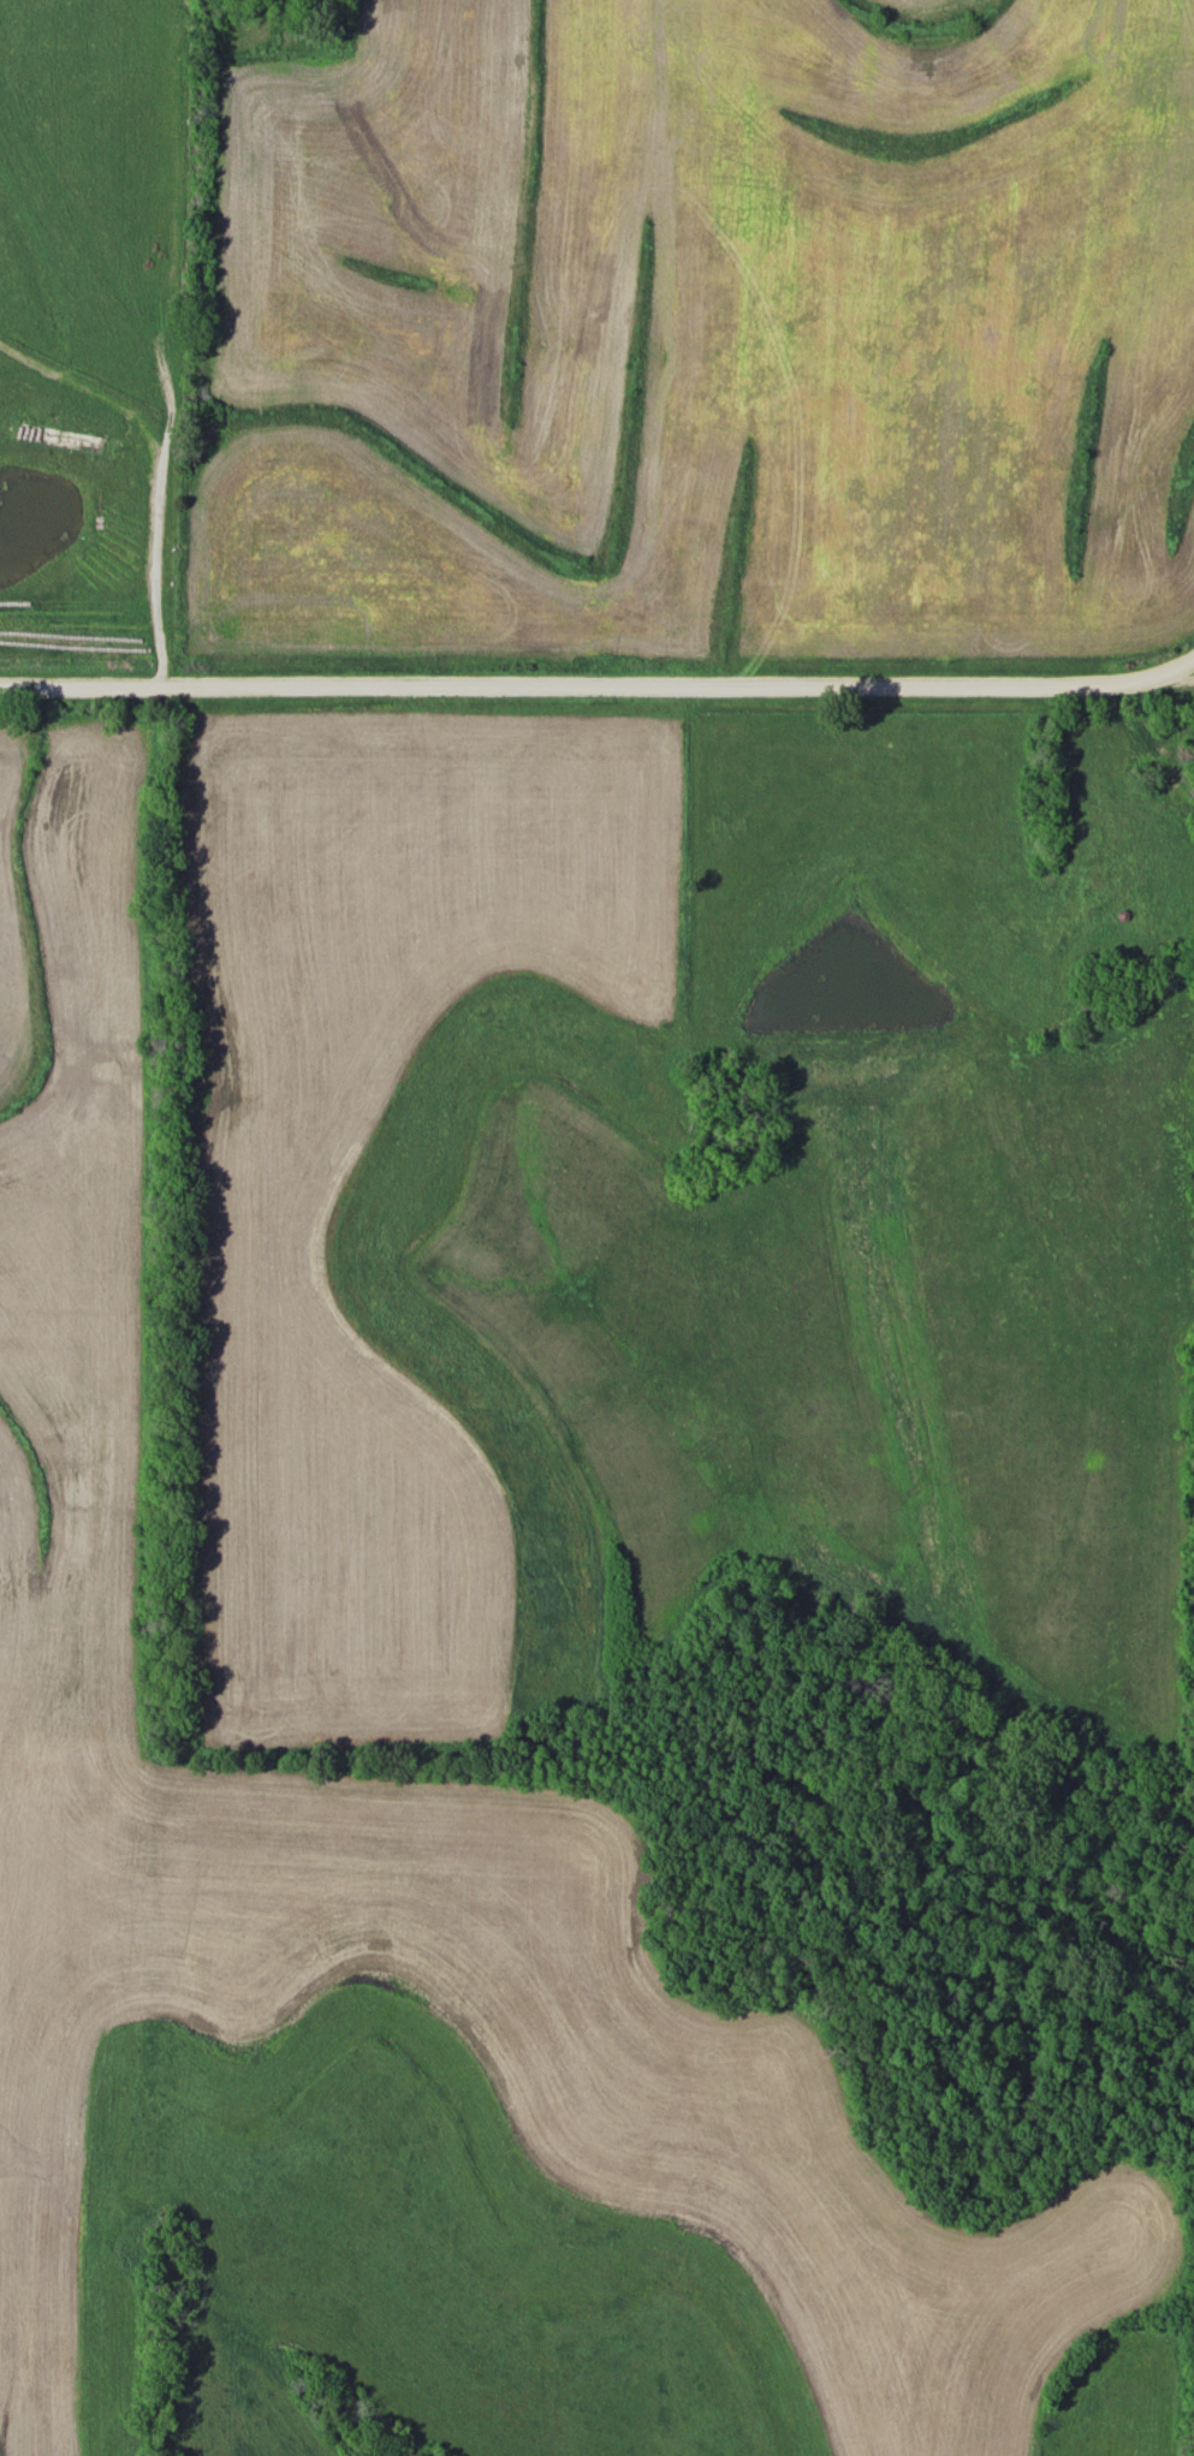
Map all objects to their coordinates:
building: (126, 509)
road: (598, 682)

